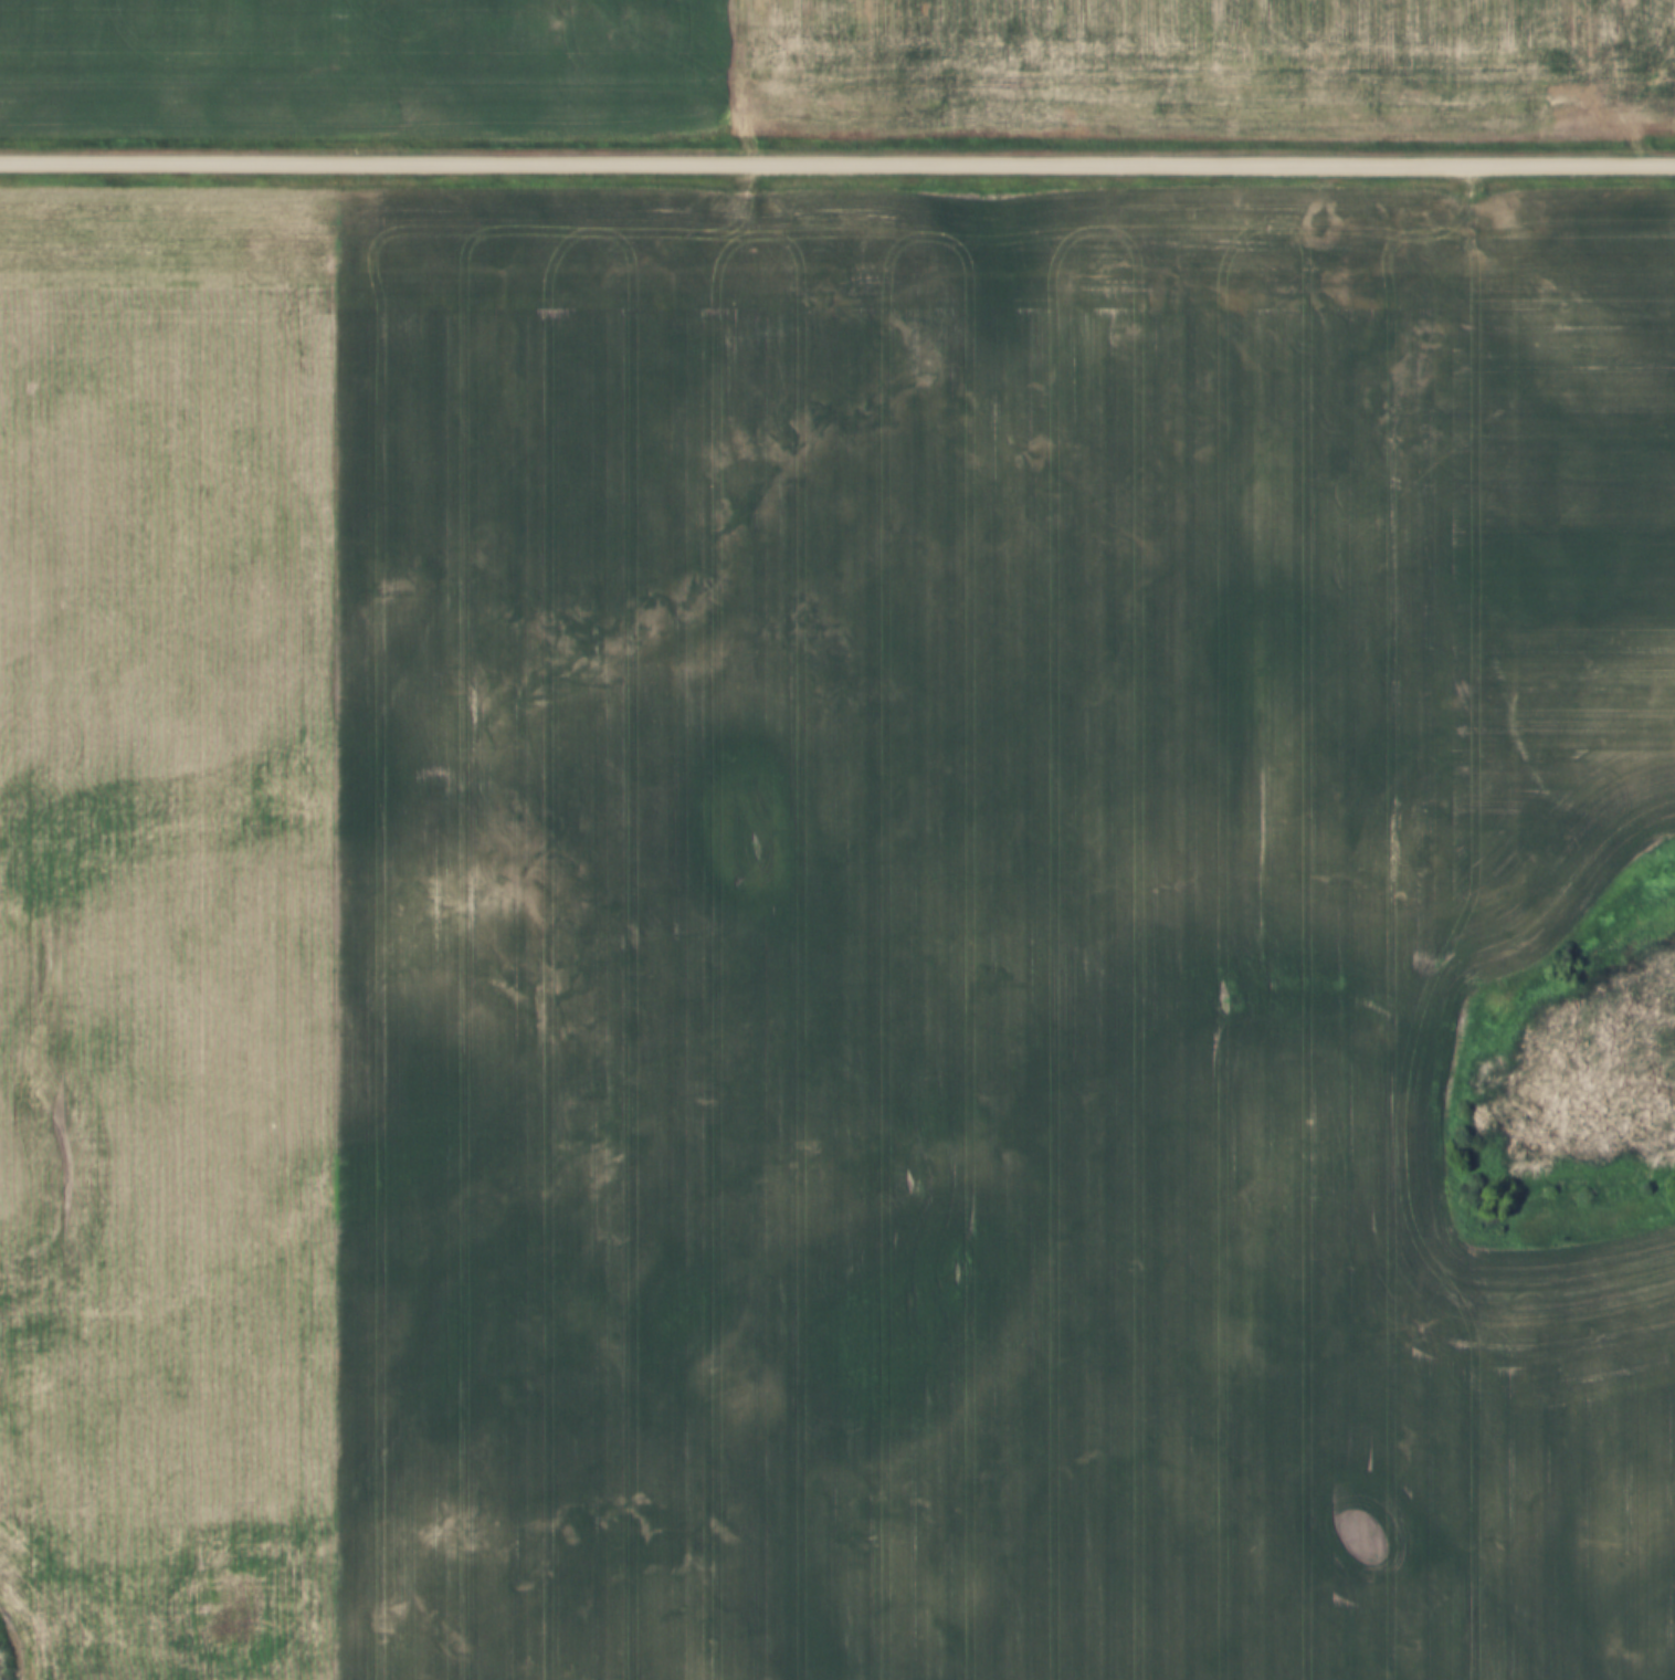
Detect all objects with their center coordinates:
road: (837, 157)

